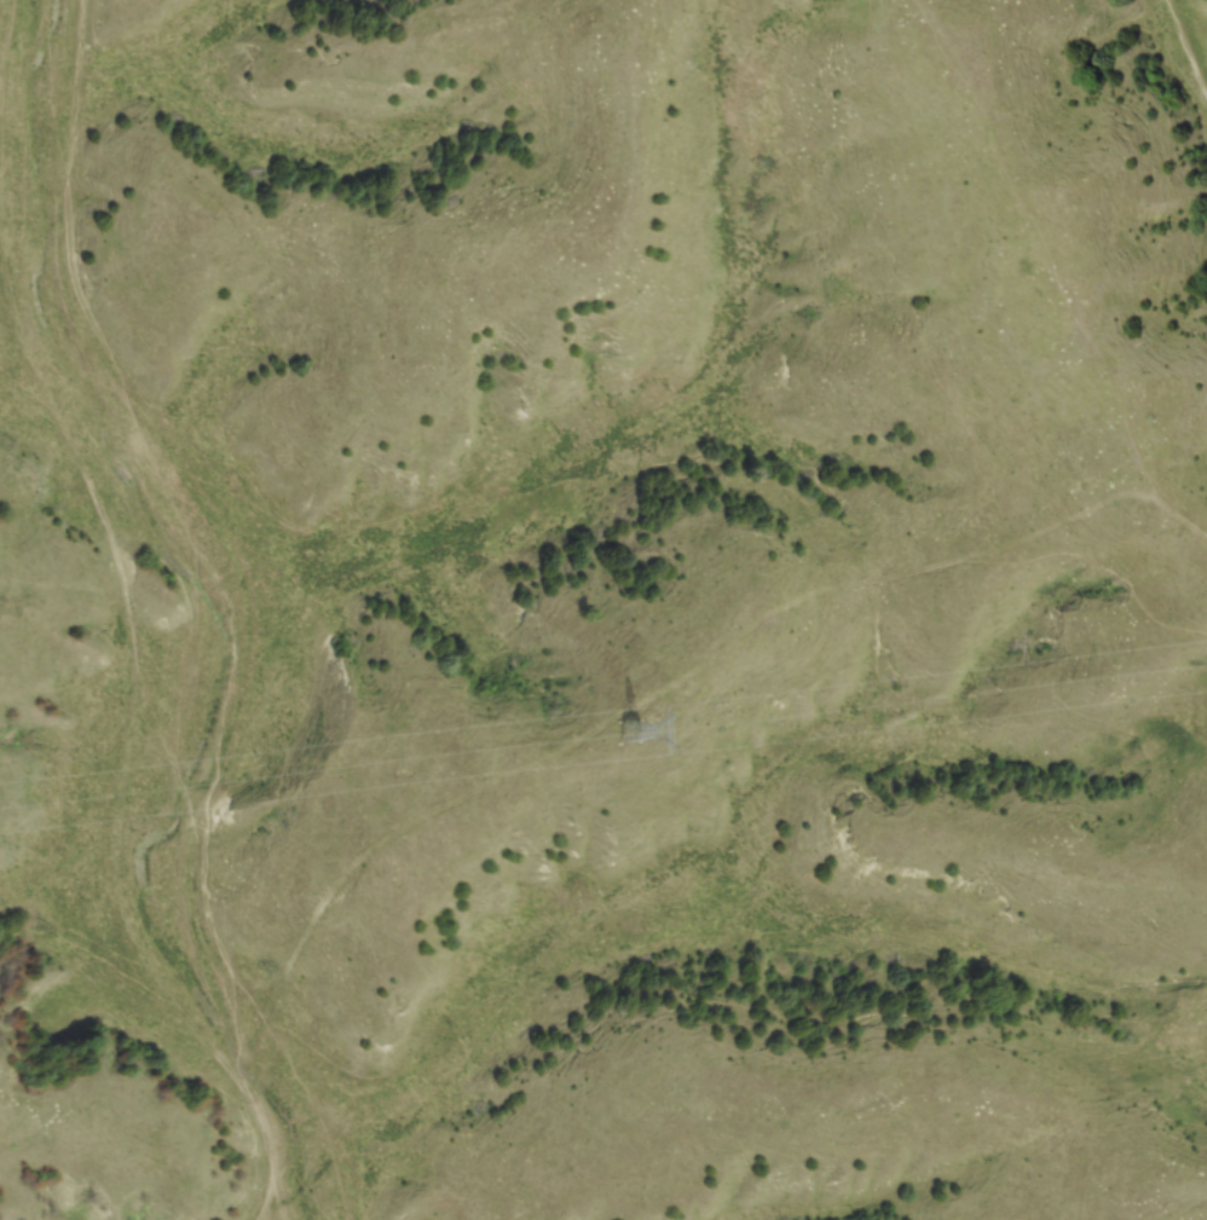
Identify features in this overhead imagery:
power tower: (607, 732)

